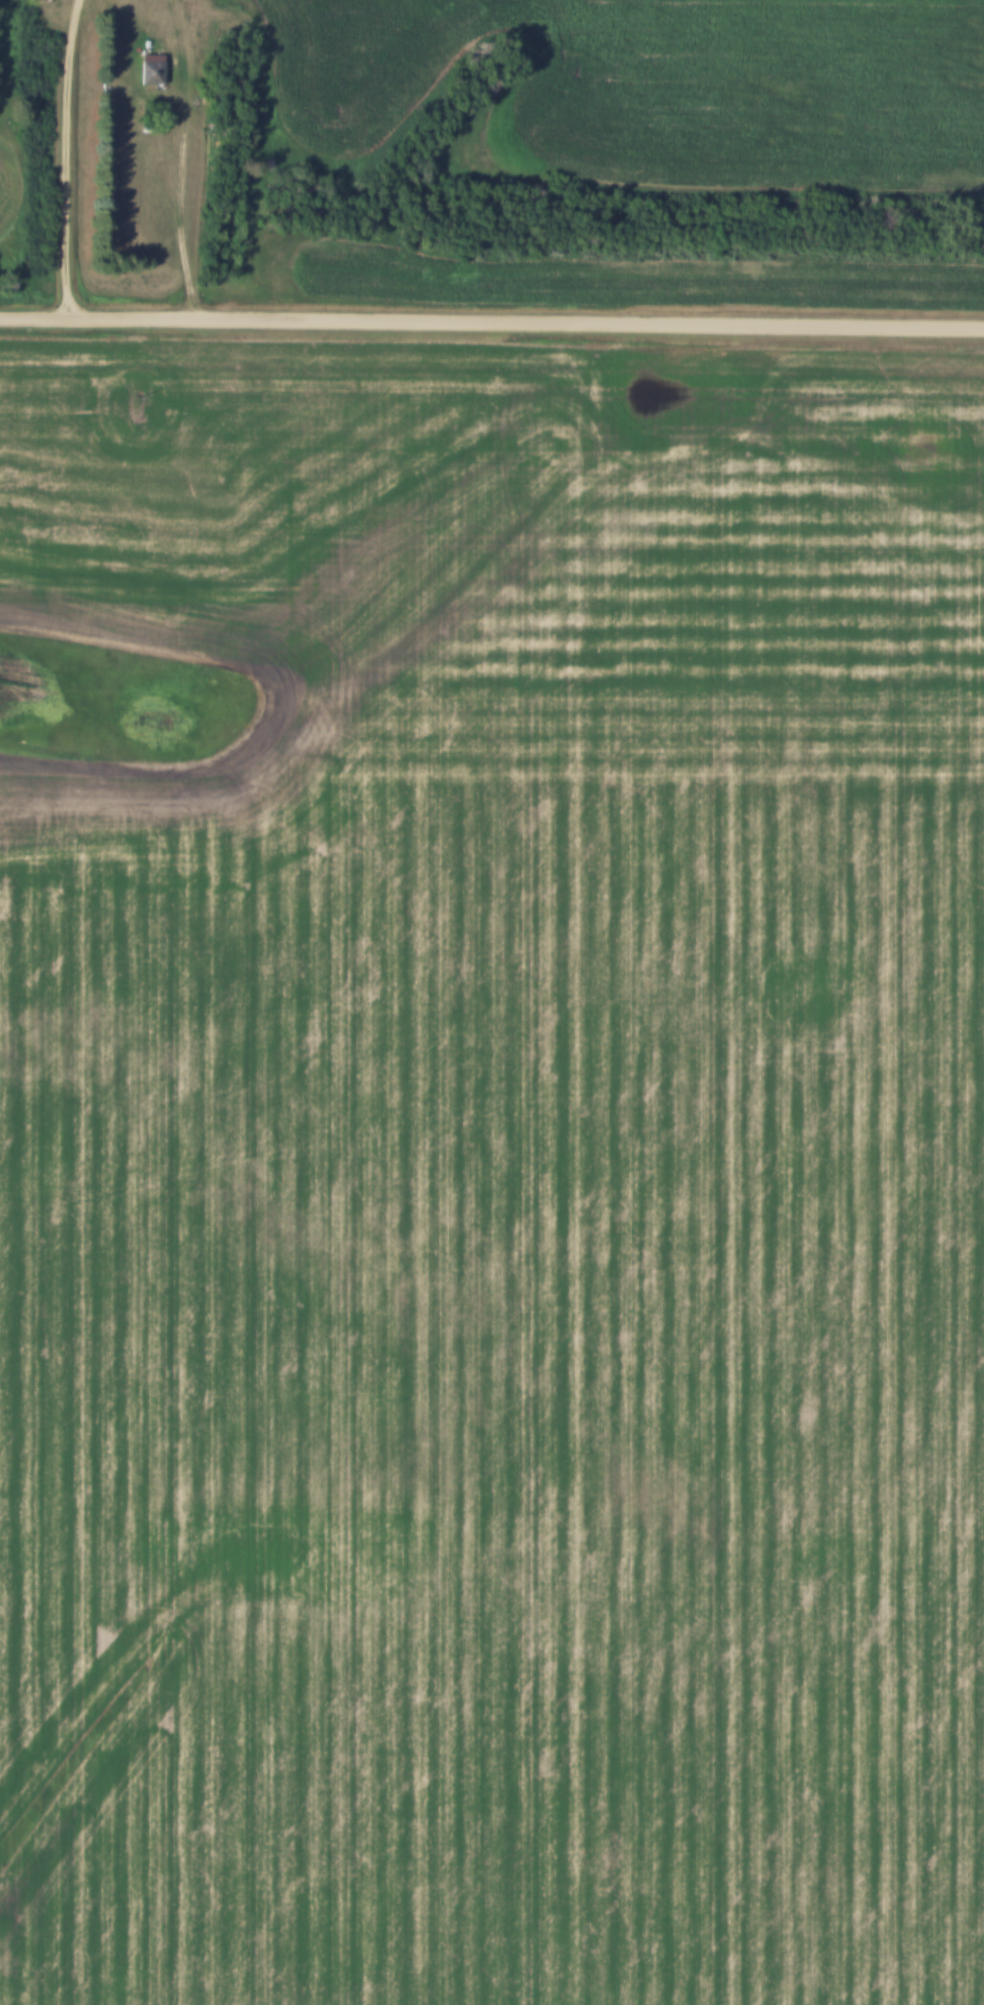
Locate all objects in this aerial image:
building: (149, 69)
road: (67, 157)
road: (492, 319)

